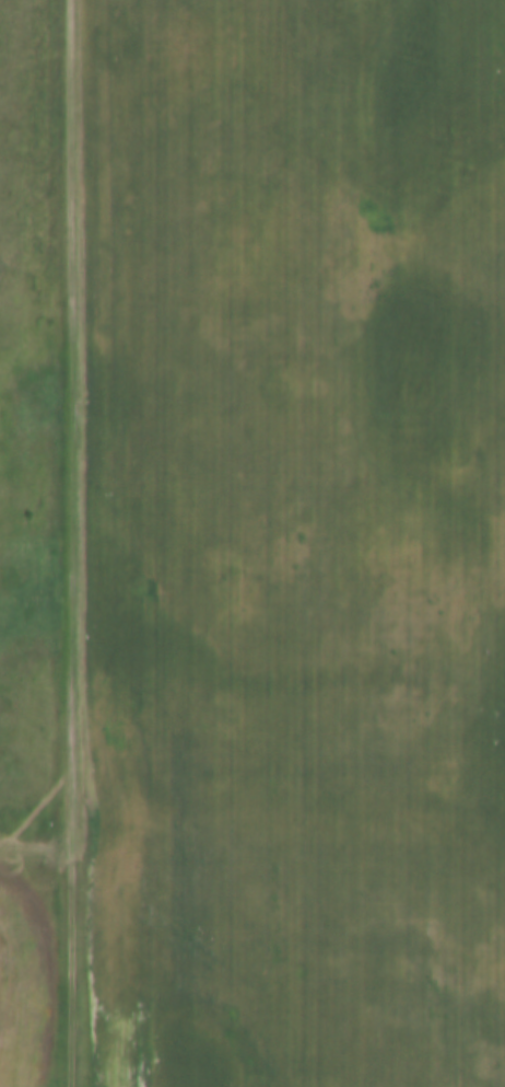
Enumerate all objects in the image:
road: (66, 543)

